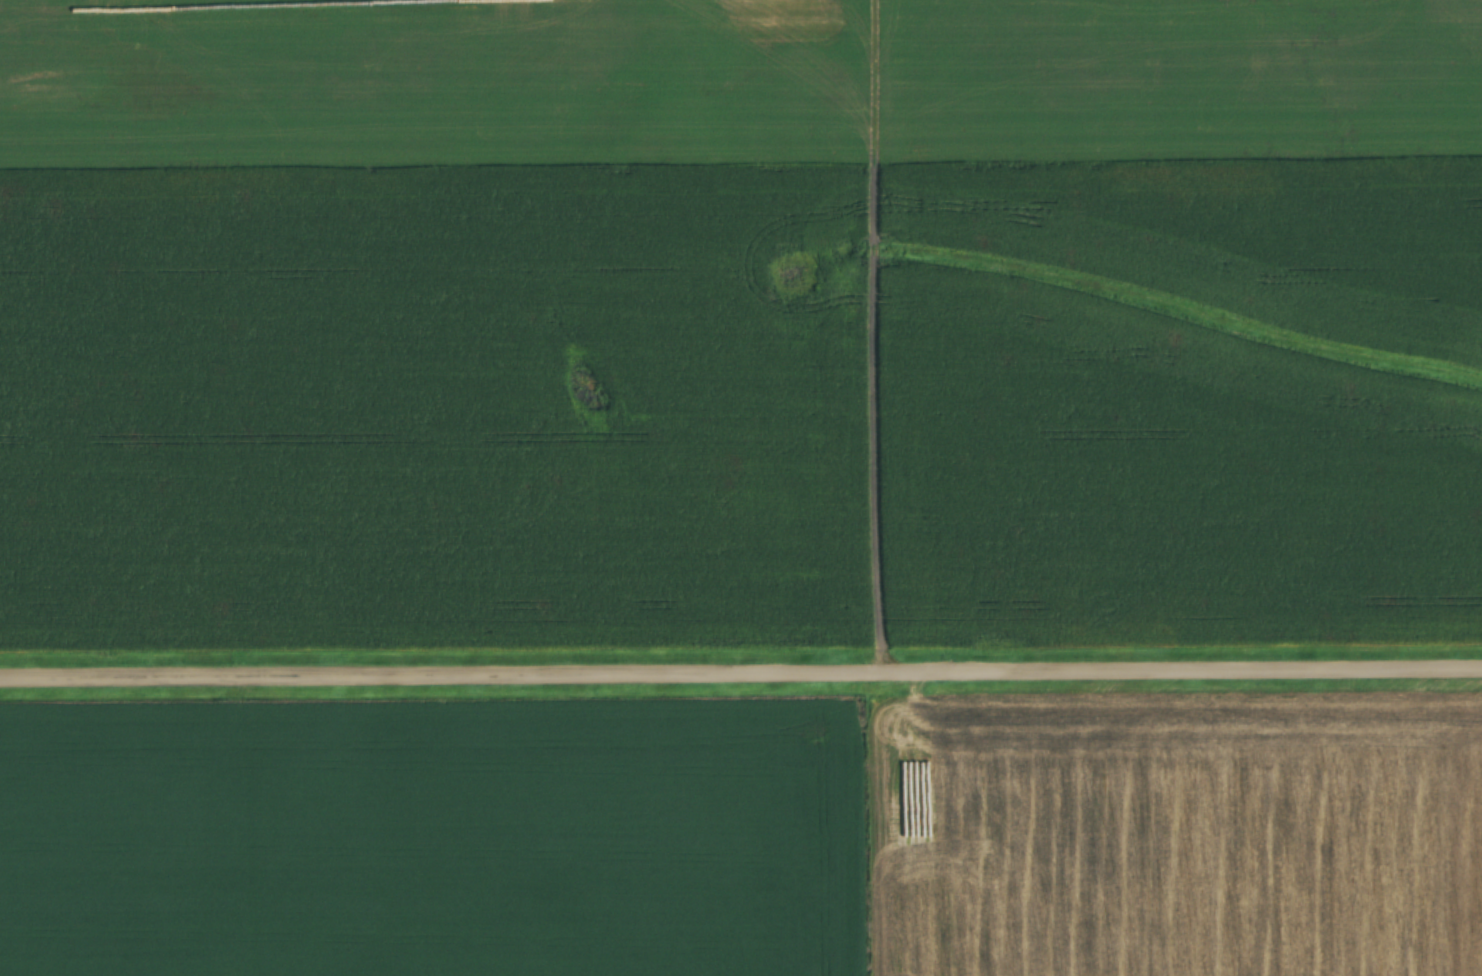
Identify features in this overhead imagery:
road: (740, 678)

